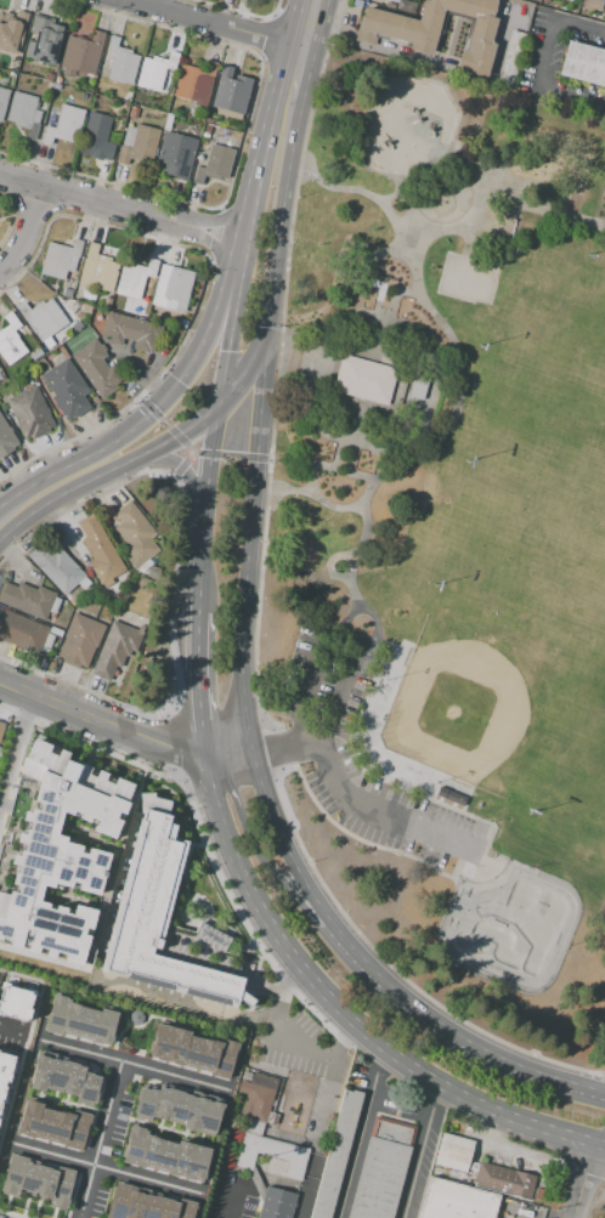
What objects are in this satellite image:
building: (395, 1)
building: (603, 1)
road: (208, 24)
road: (304, 24)
building: (437, 30)
building: (12, 33)
building: (45, 44)
building: (81, 53)
road: (542, 62)
building: (121, 63)
building: (583, 64)
road: (435, 69)
building: (156, 73)
road: (295, 74)
building: (193, 81)
building: (231, 91)
building: (2, 101)
building: (23, 111)
building: (132, 112)
building: (64, 125)
building: (166, 125)
building: (197, 128)
building: (207, 128)
building: (96, 137)
building: (219, 137)
road: (264, 142)
building: (137, 145)
building: (176, 154)
park: (579, 160)
building: (215, 164)
road: (118, 206)
road: (284, 213)
road: (24, 230)
traffic signals: (237, 238)
road: (445, 253)
building: (60, 259)
building: (98, 268)
building: (135, 278)
road: (358, 279)
building: (173, 288)
road: (409, 293)
building: (90, 298)
building: (109, 305)
building: (86, 308)
building: (43, 318)
road: (233, 322)
building: (182, 324)
building: (77, 325)
traffic signals: (271, 327)
building: (130, 332)
building: (11, 340)
building: (49, 342)
park: (549, 342)
building: (67, 344)
traffic signals: (228, 351)
building: (35, 355)
road: (276, 357)
road: (300, 363)
building: (96, 367)
building: (364, 379)
building: (418, 387)
building: (66, 389)
road: (233, 389)
traffic signals: (220, 407)
road: (152, 409)
building: (30, 412)
road: (156, 414)
building: (6, 437)
traffic signals: (173, 438)
road: (400, 438)
road: (441, 449)
road: (219, 452)
road: (183, 463)
traffic signals: (256, 464)
road: (183, 466)
road: (324, 466)
road: (346, 470)
road: (89, 483)
road: (211, 495)
road: (363, 495)
park: (526, 519)
building: (135, 536)
road: (254, 538)
park: (447, 540)
building: (100, 550)
park: (518, 551)
road: (350, 553)
building: (58, 568)
building: (153, 572)
building: (27, 599)
building: (73, 601)
building: (22, 631)
building: (79, 641)
building: (115, 650)
road: (182, 669)
road: (203, 672)
park: (503, 696)
road: (128, 727)
building: (1, 730)
road: (16, 737)
road: (296, 747)
traffic signals: (259, 750)
parking lot: (358, 758)
road: (17, 759)
traffic signals: (208, 759)
road: (380, 761)
road: (173, 769)
road: (214, 788)
road: (1, 791)
road: (356, 795)
road: (273, 815)
road: (249, 825)
road: (123, 845)
road: (186, 851)
building: (58, 852)
road: (181, 908)
building: (164, 920)
park: (510, 928)
road: (256, 939)
road: (271, 951)
road: (44, 958)
road: (258, 962)
road: (369, 963)
road: (275, 990)
building: (15, 1001)
road: (179, 1001)
road: (100, 1003)
road: (276, 1003)
building: (134, 1016)
building: (79, 1020)
road: (145, 1020)
road: (13, 1036)
road: (367, 1036)
road: (26, 1043)
road: (298, 1048)
building: (193, 1049)
road: (132, 1064)
road: (528, 1070)
building: (5, 1073)
building: (64, 1080)
building: (255, 1095)
building: (177, 1107)
road: (118, 1115)
road: (324, 1116)
building: (53, 1123)
road: (89, 1132)
road: (358, 1132)
road: (97, 1138)
road: (601, 1143)
road: (419, 1150)
building: (452, 1151)
building: (270, 1154)
building: (335, 1154)
building: (165, 1156)
road: (106, 1168)
building: (380, 1169)
building: (38, 1180)
building: (504, 1180)
road: (581, 1180)
road: (231, 1201)
building: (456, 1201)
building: (146, 1203)
building: (275, 1203)
road: (531, 1212)

